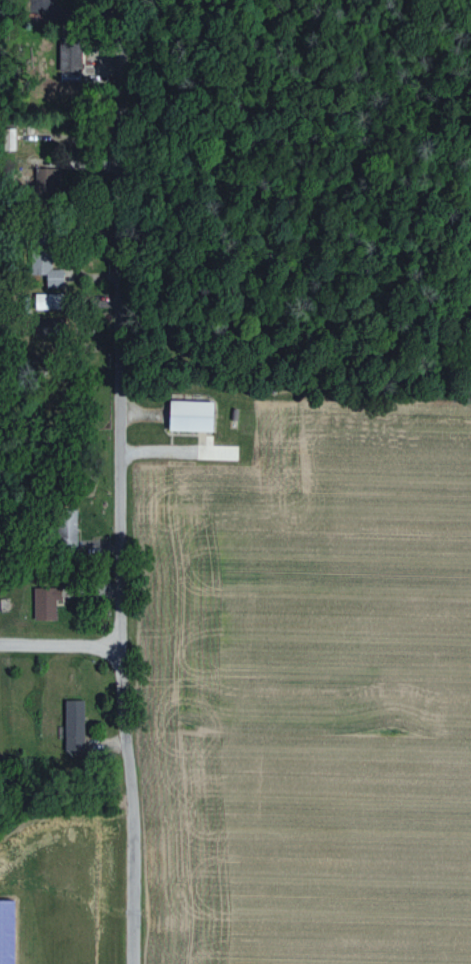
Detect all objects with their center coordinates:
building: (8, 138)
building: (45, 178)
building: (46, 269)
building: (47, 301)
road: (137, 410)
building: (189, 415)
road: (169, 447)
road: (118, 482)
building: (65, 527)
building: (44, 602)
road: (59, 643)
building: (73, 726)

